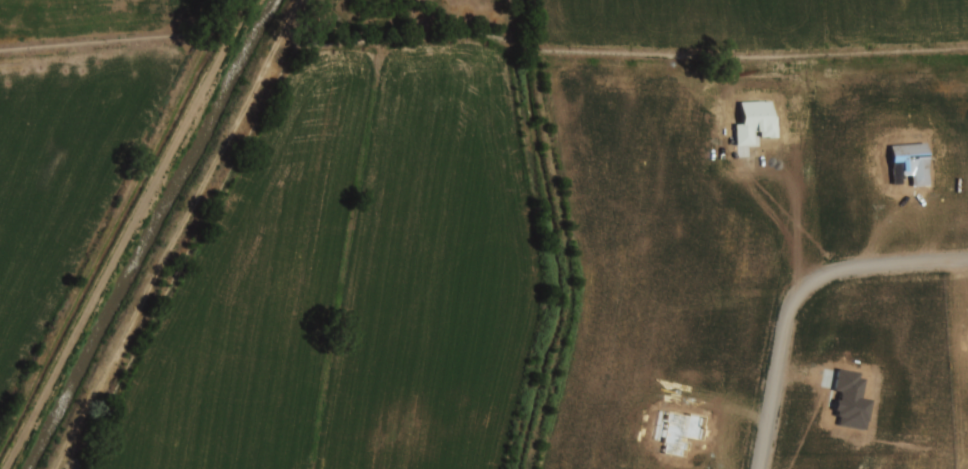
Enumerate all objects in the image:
building: (886, 272)

